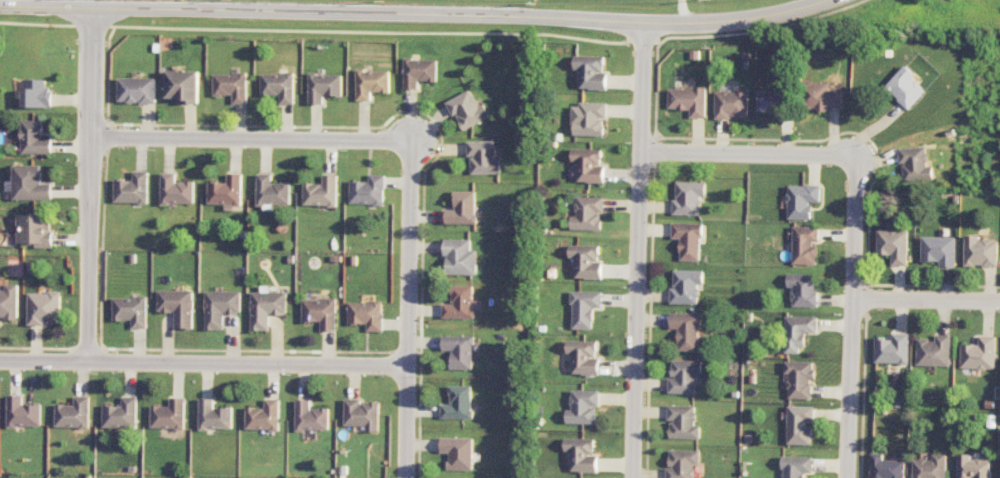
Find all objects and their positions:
park: (623, 1)
road: (681, 11)
road: (416, 14)
building: (418, 71)
building: (590, 72)
building: (370, 83)
building: (182, 85)
building: (231, 86)
building: (278, 86)
building: (323, 86)
building: (904, 87)
building: (136, 90)
building: (36, 93)
building: (821, 96)
building: (687, 100)
building: (731, 102)
building: (774, 104)
building: (466, 109)
building: (587, 118)
building: (34, 138)
road: (250, 138)
road: (747, 153)
building: (482, 157)
building: (914, 164)
building: (587, 165)
building: (28, 183)
road: (90, 184)
building: (132, 188)
building: (176, 189)
building: (368, 189)
building: (227, 190)
building: (272, 190)
building: (322, 191)
building: (687, 197)
building: (801, 200)
building: (461, 208)
building: (587, 213)
building: (35, 229)
building: (687, 240)
building: (805, 245)
building: (892, 245)
road: (638, 250)
building: (938, 250)
building: (979, 251)
building: (459, 257)
building: (585, 261)
building: (685, 286)
building: (802, 289)
road: (926, 298)
building: (8, 302)
building: (460, 303)
building: (177, 306)
building: (220, 307)
building: (43, 308)
building: (266, 308)
road: (406, 308)
building: (584, 308)
building: (130, 310)
building: (320, 312)
building: (365, 314)
road: (851, 316)
building: (685, 330)
building: (797, 332)
building: (891, 349)
building: (458, 351)
building: (933, 351)
building: (978, 353)
building: (583, 356)
road: (202, 363)
building: (683, 376)
building: (799, 379)
building: (457, 403)
building: (582, 407)
building: (22, 412)
building: (73, 413)
building: (120, 414)
building: (168, 414)
building: (362, 414)
building: (214, 415)
building: (263, 416)
building: (310, 416)
building: (682, 422)
building: (799, 424)
building: (457, 452)
building: (580, 454)
building: (681, 463)
building: (796, 466)
building: (885, 467)
building: (930, 467)
building: (972, 467)

